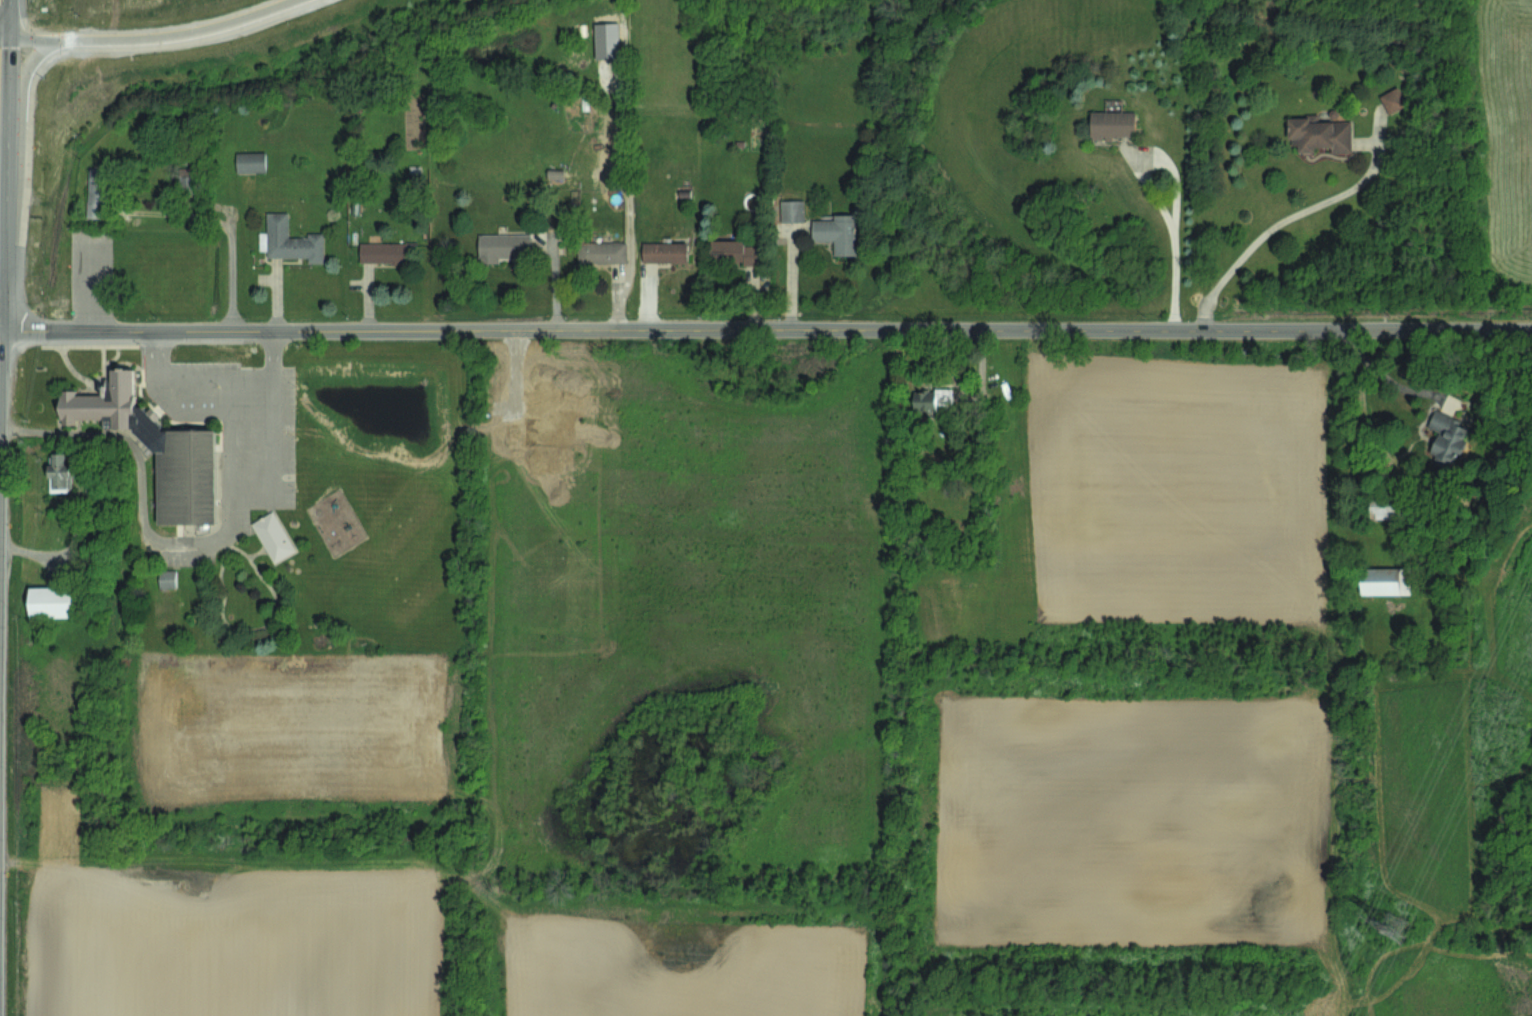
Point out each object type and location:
traffic signals: (2, 38)
road: (30, 38)
road: (130, 38)
building: (606, 39)
road: (1, 58)
building: (1392, 99)
building: (1111, 123)
building: (1318, 134)
road: (0, 155)
building: (250, 161)
building: (97, 192)
road: (1175, 192)
building: (791, 210)
road: (1291, 216)
building: (836, 232)
building: (289, 240)
building: (503, 246)
building: (736, 249)
building: (601, 251)
building: (664, 251)
building: (382, 252)
road: (90, 282)
road: (766, 328)
road: (271, 347)
road: (155, 374)
road: (1391, 378)
road: (226, 386)
building: (929, 398)
road: (103, 436)
building: (1446, 438)
building: (156, 448)
road: (272, 452)
building: (59, 472)
building: (1384, 506)
road: (227, 520)
building: (272, 536)
building: (166, 578)
building: (1385, 580)
building: (53, 600)
road: (1337, 672)
power tower: (1393, 926)

